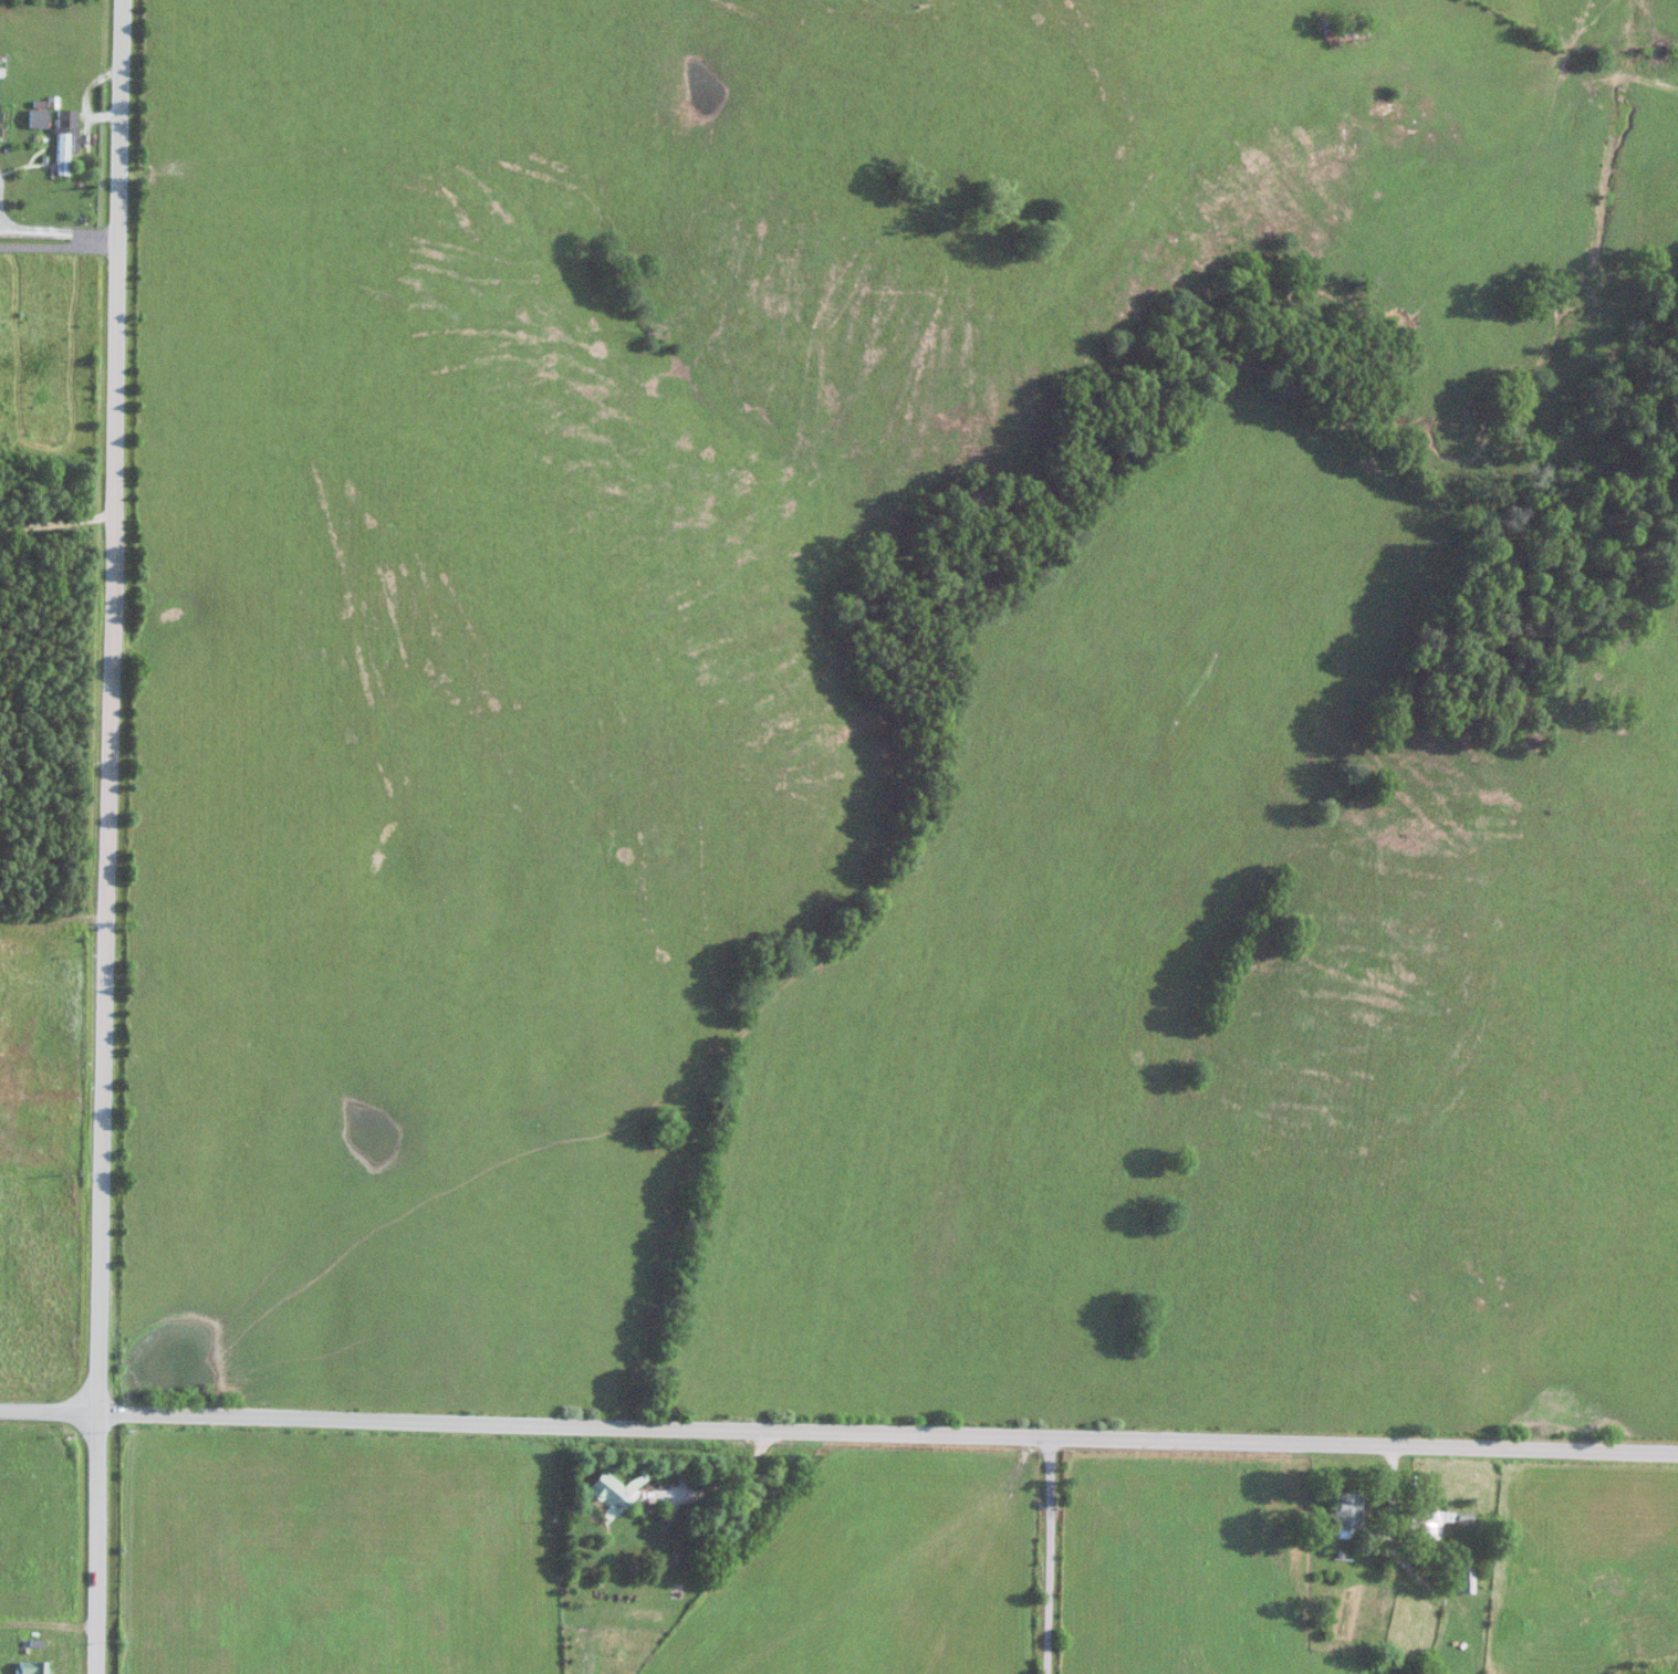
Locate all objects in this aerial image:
building: (1342, 27)
building: (34, 118)
building: (63, 137)
road: (60, 244)
road: (55, 520)
road: (110, 836)
road: (838, 1425)
building: (613, 1490)
building: (1345, 1510)
building: (1431, 1523)
road: (1054, 1552)
building: (1457, 1577)
building: (27, 1668)

